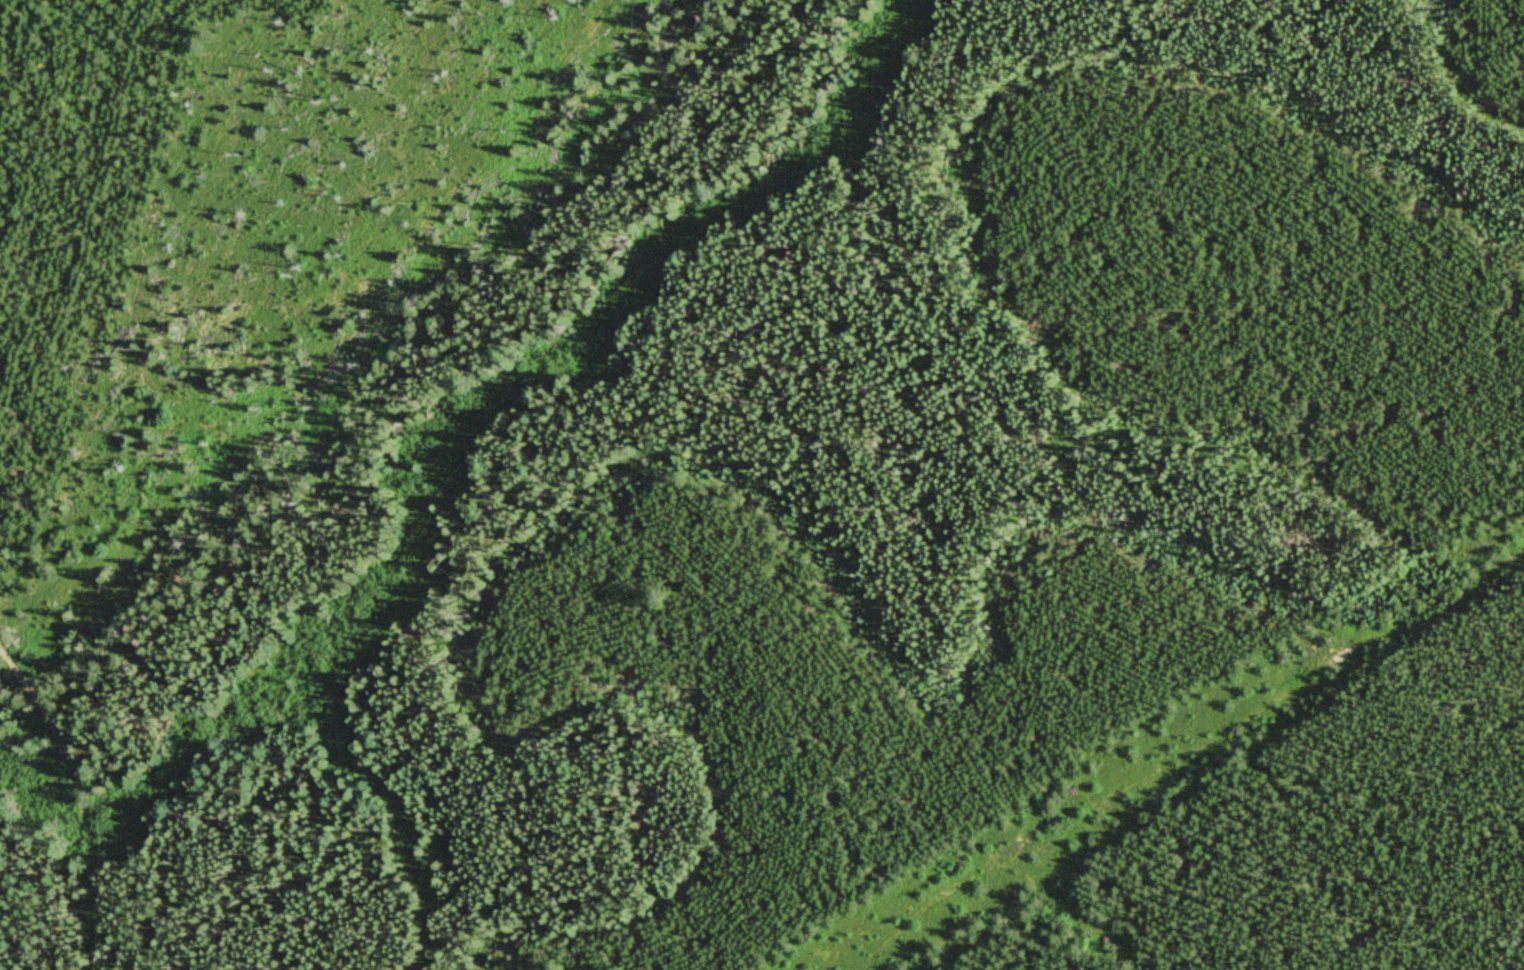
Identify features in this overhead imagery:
road: (7, 649)
road: (94, 780)

